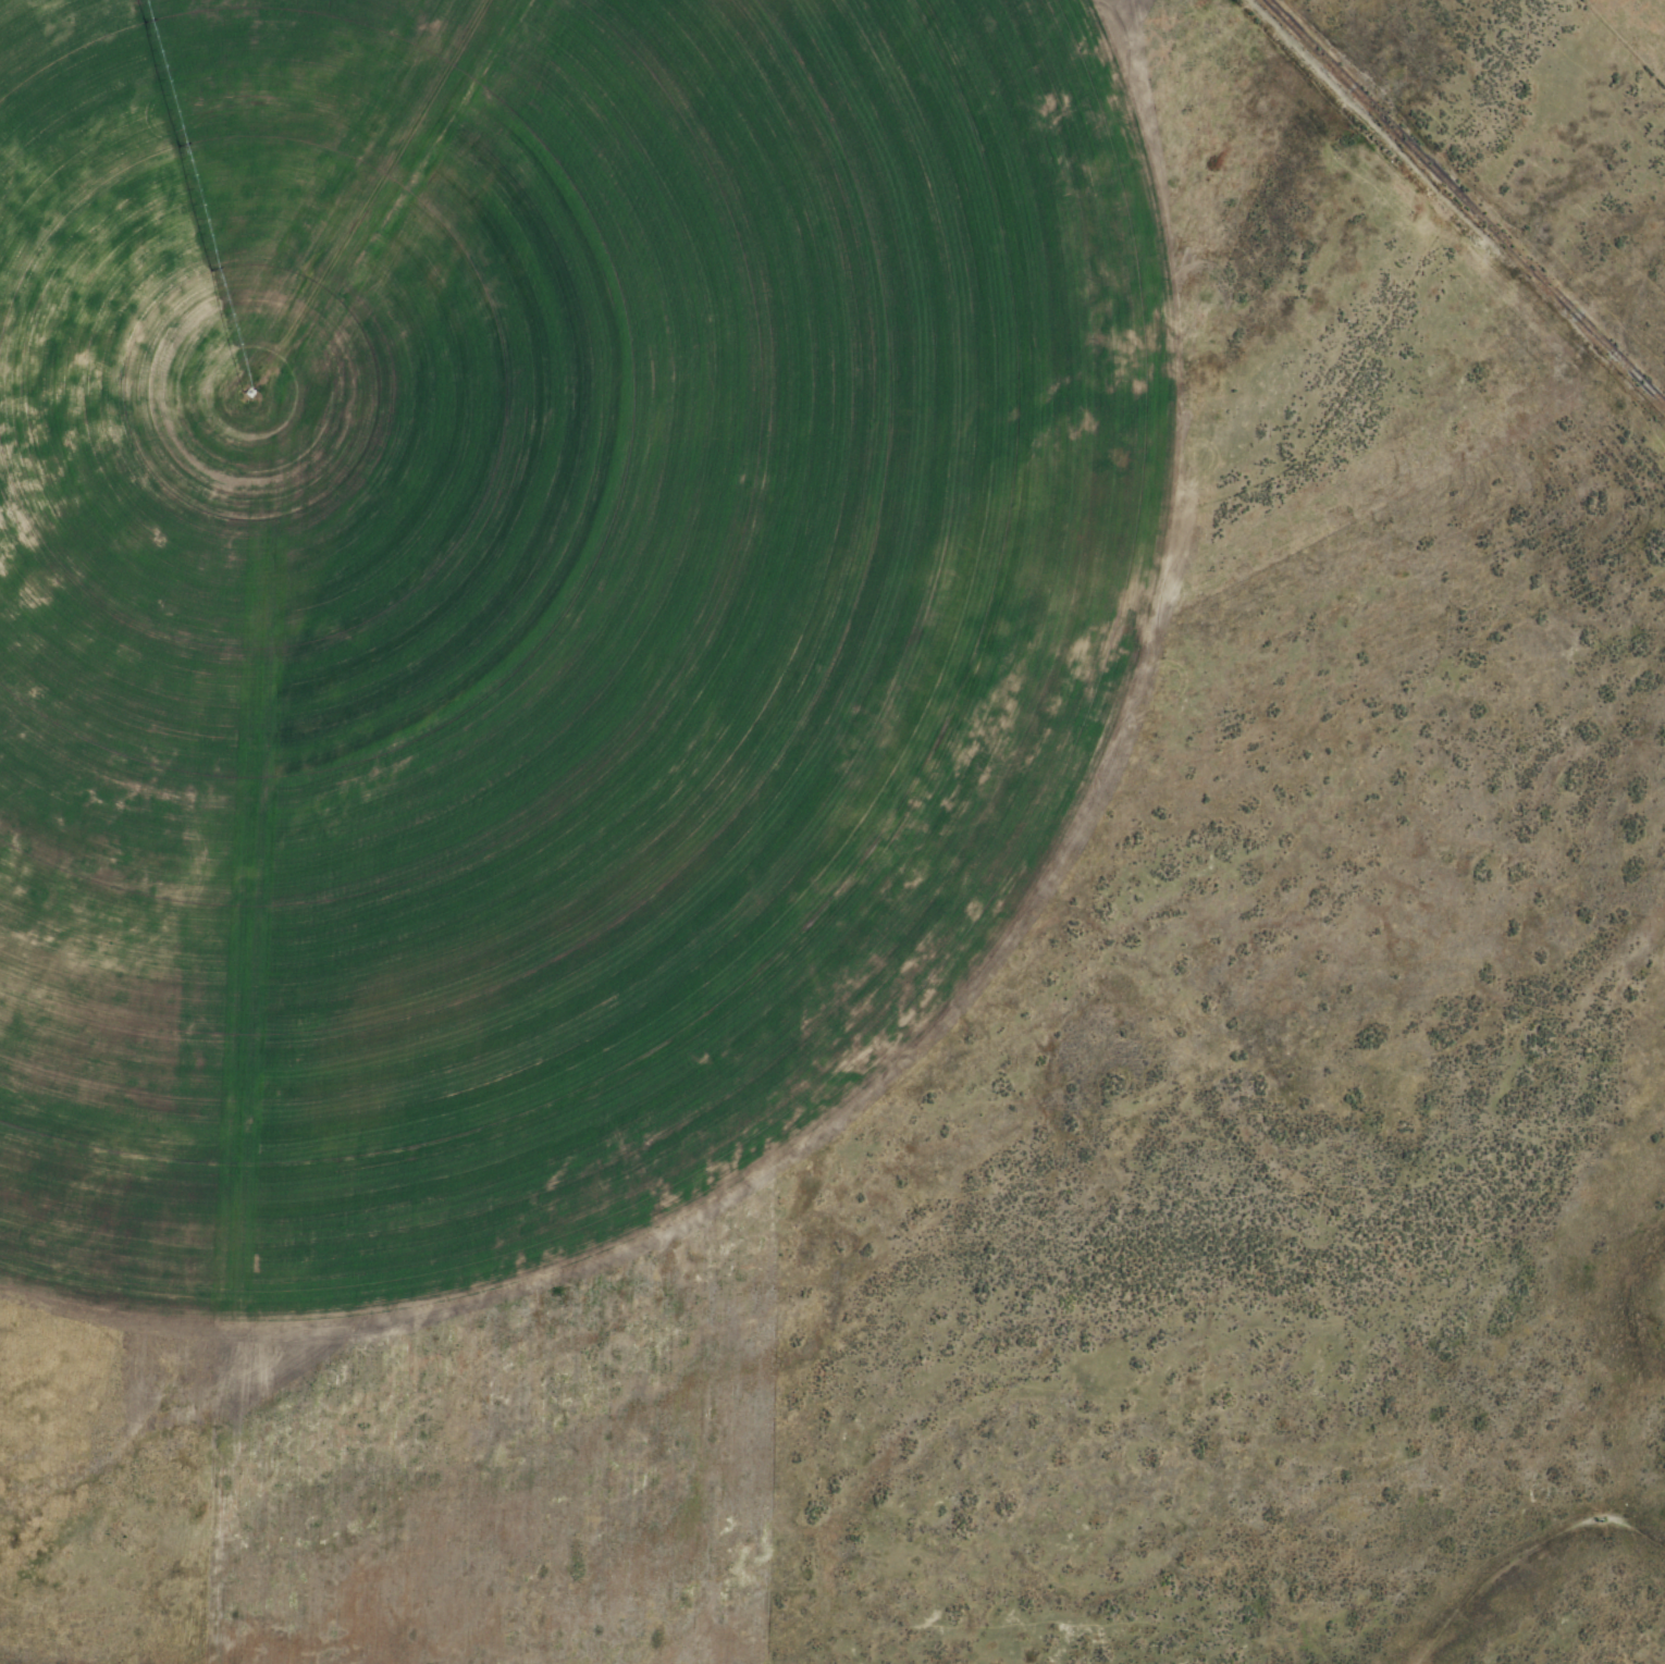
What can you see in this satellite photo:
railway: (1465, 202)
crop: (832, 831)

